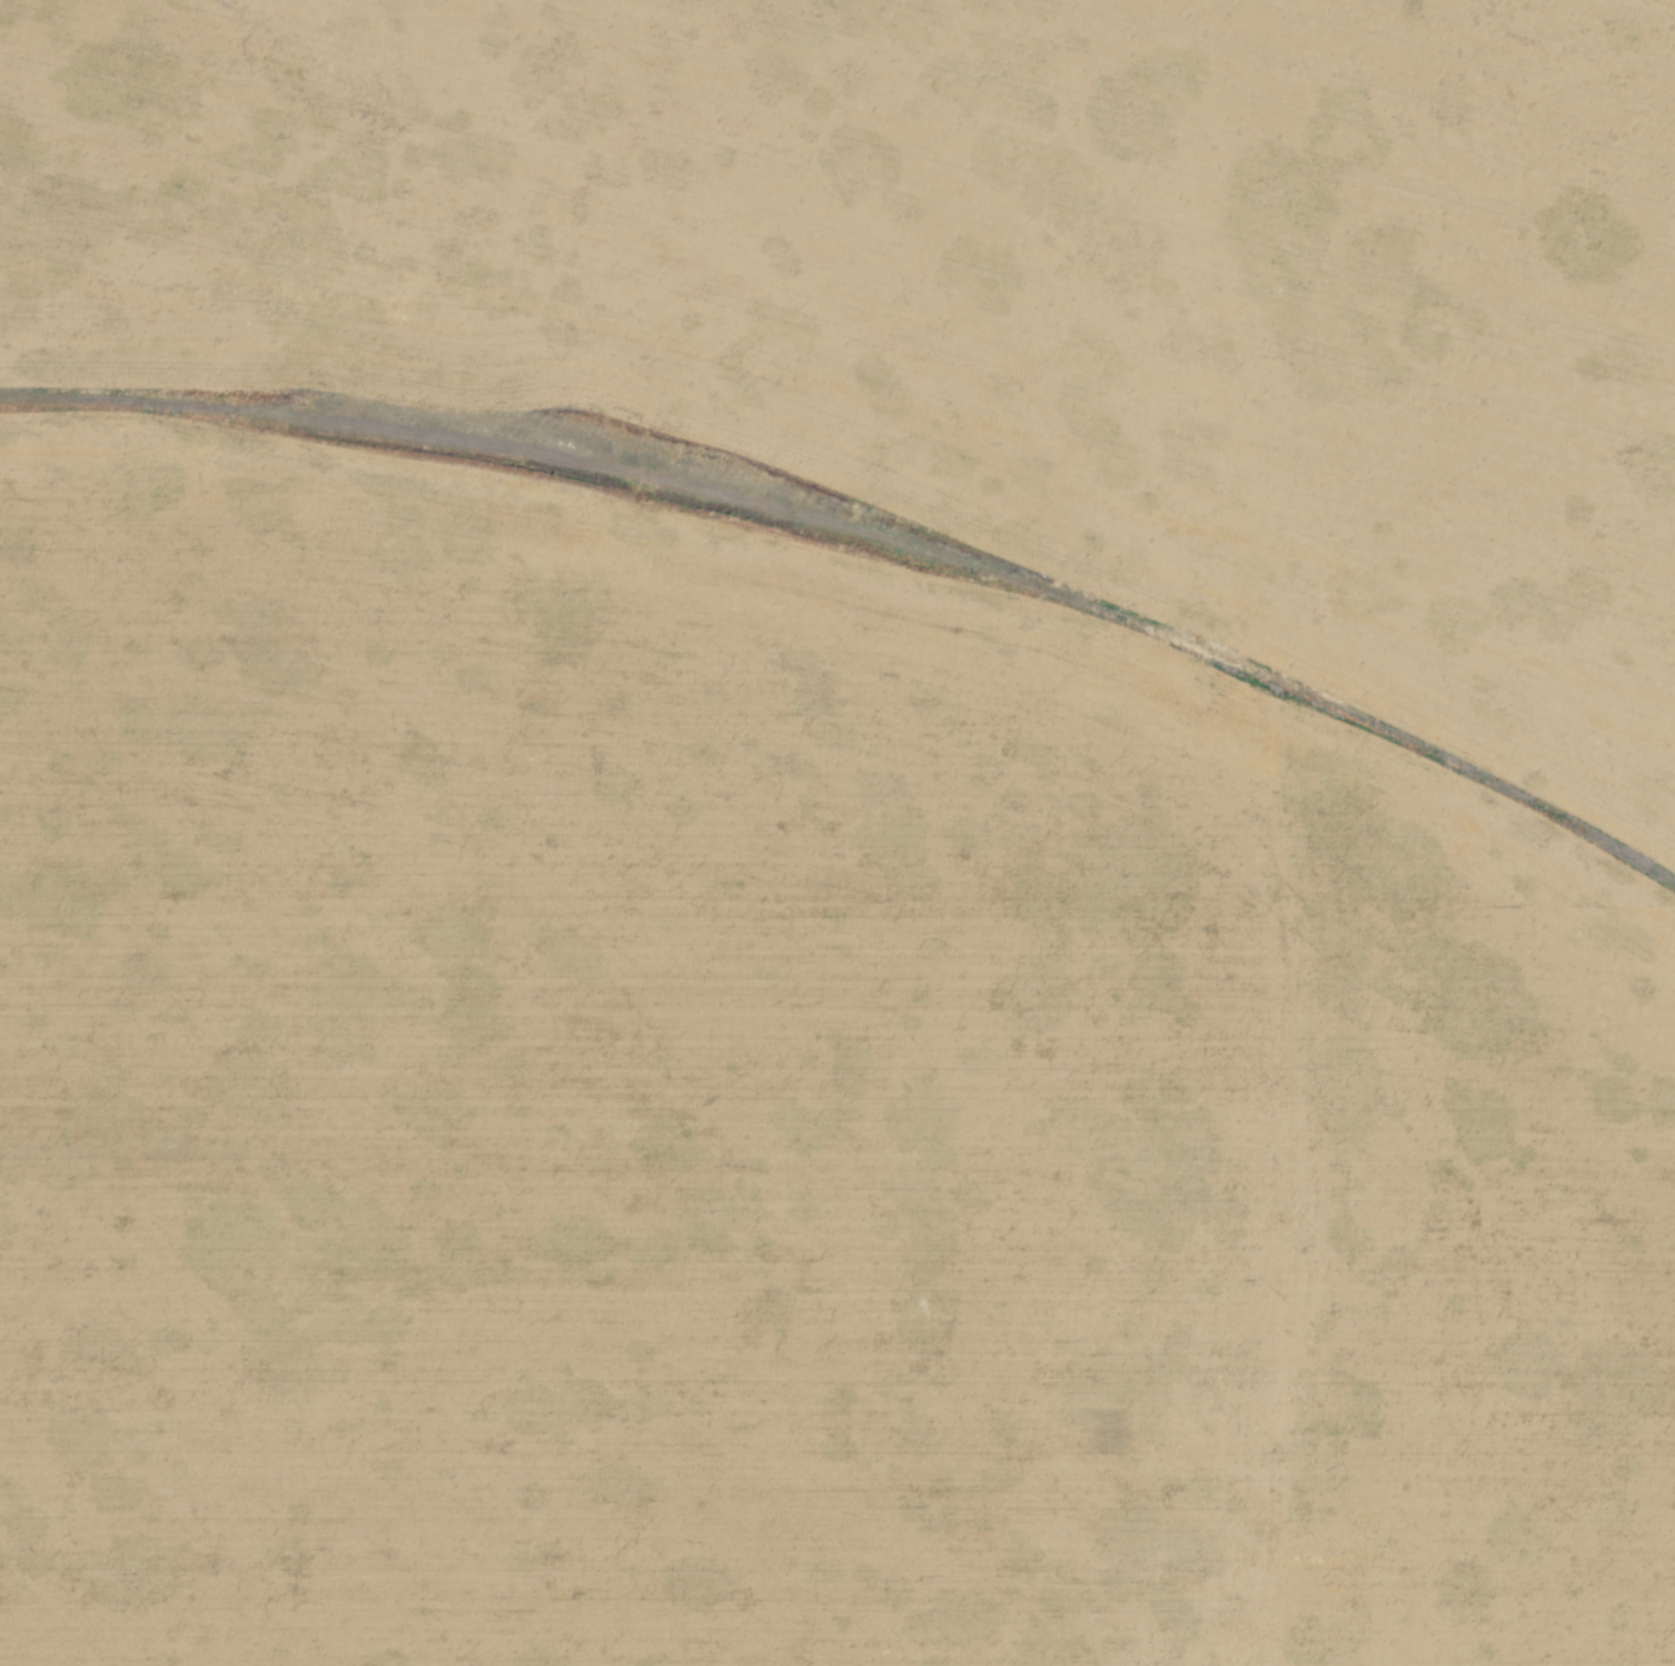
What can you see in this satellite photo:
road: (1290, 1208)

